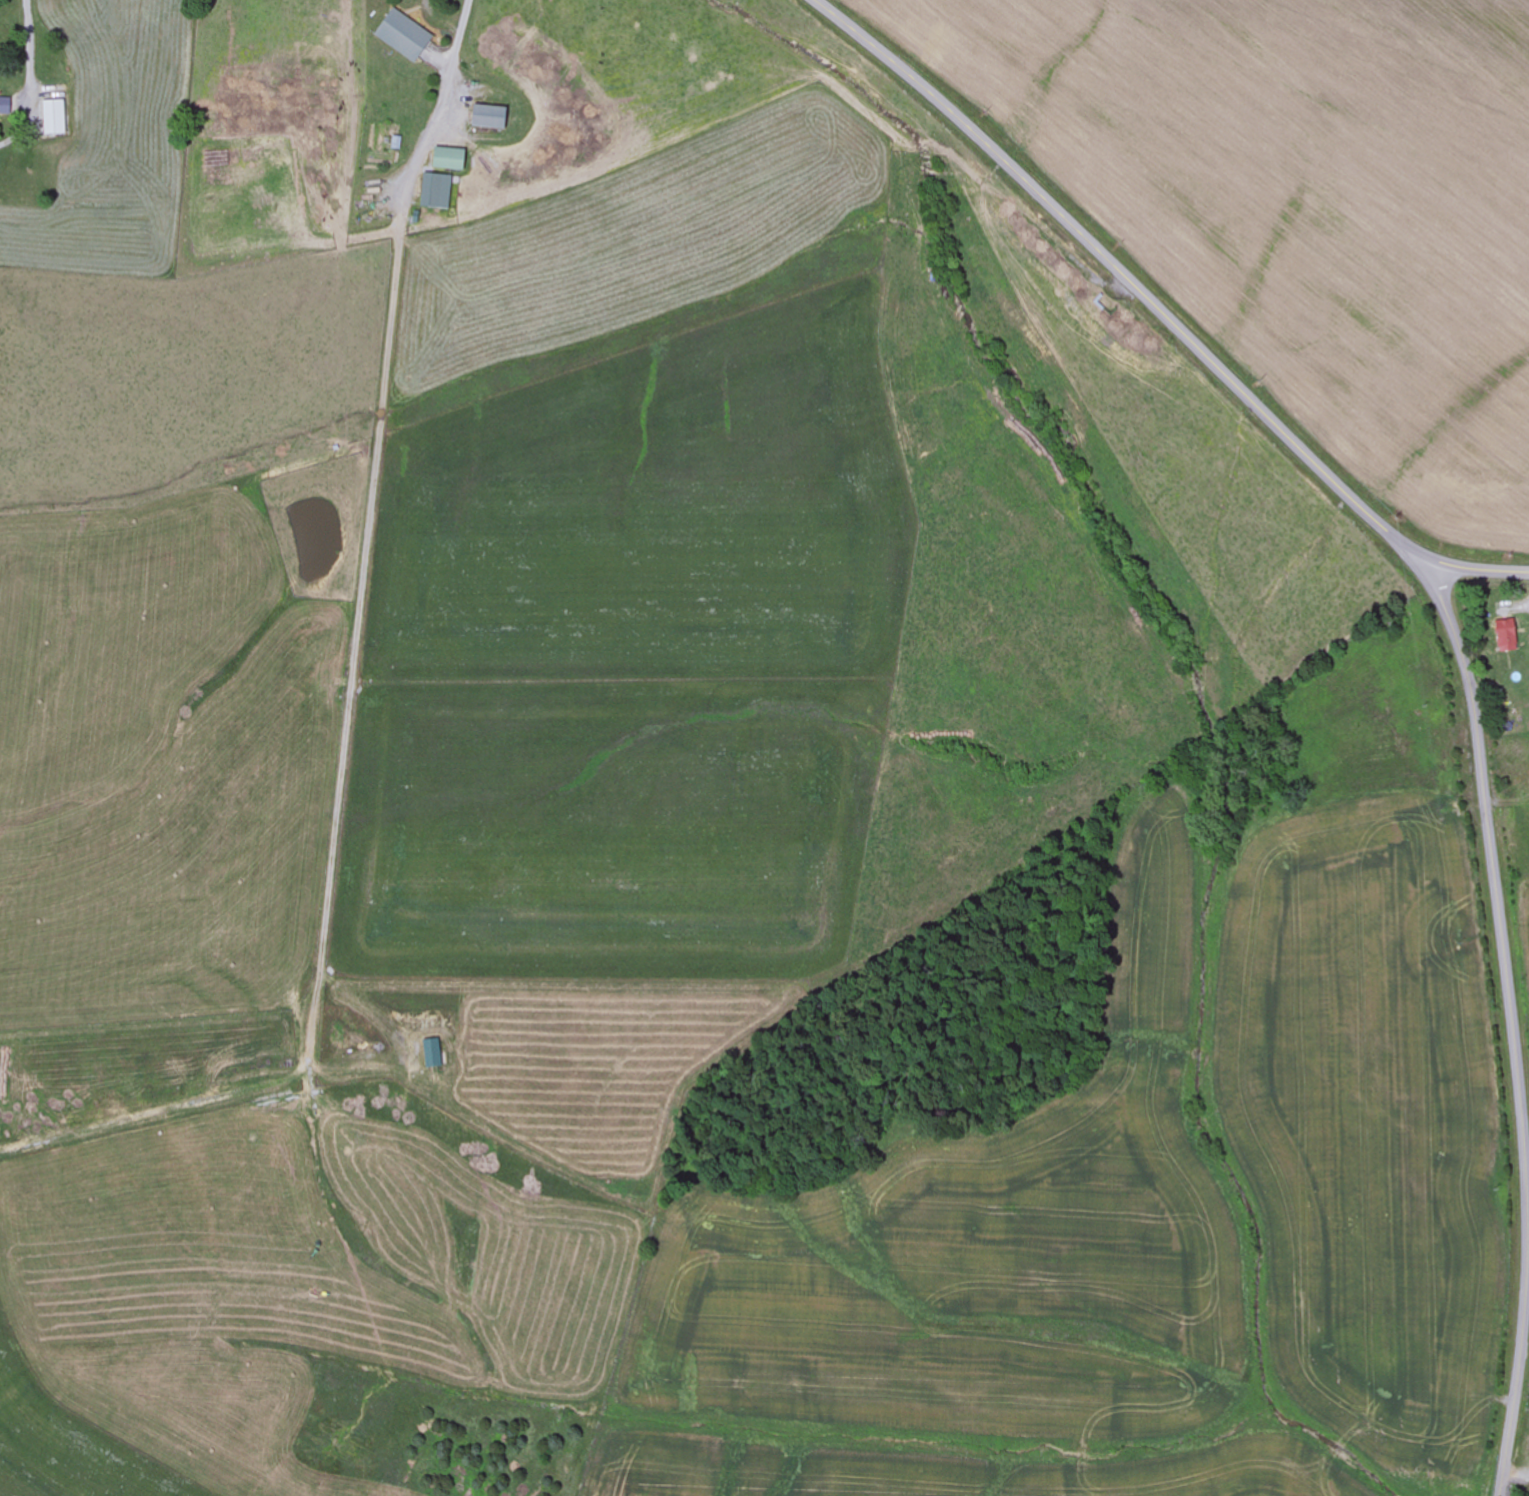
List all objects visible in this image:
building: (401, 36)
building: (5, 107)
building: (54, 119)
building: (487, 119)
building: (447, 161)
building: (433, 192)
road: (1161, 310)
building: (1504, 636)
road: (1511, 1017)
building: (430, 1054)

